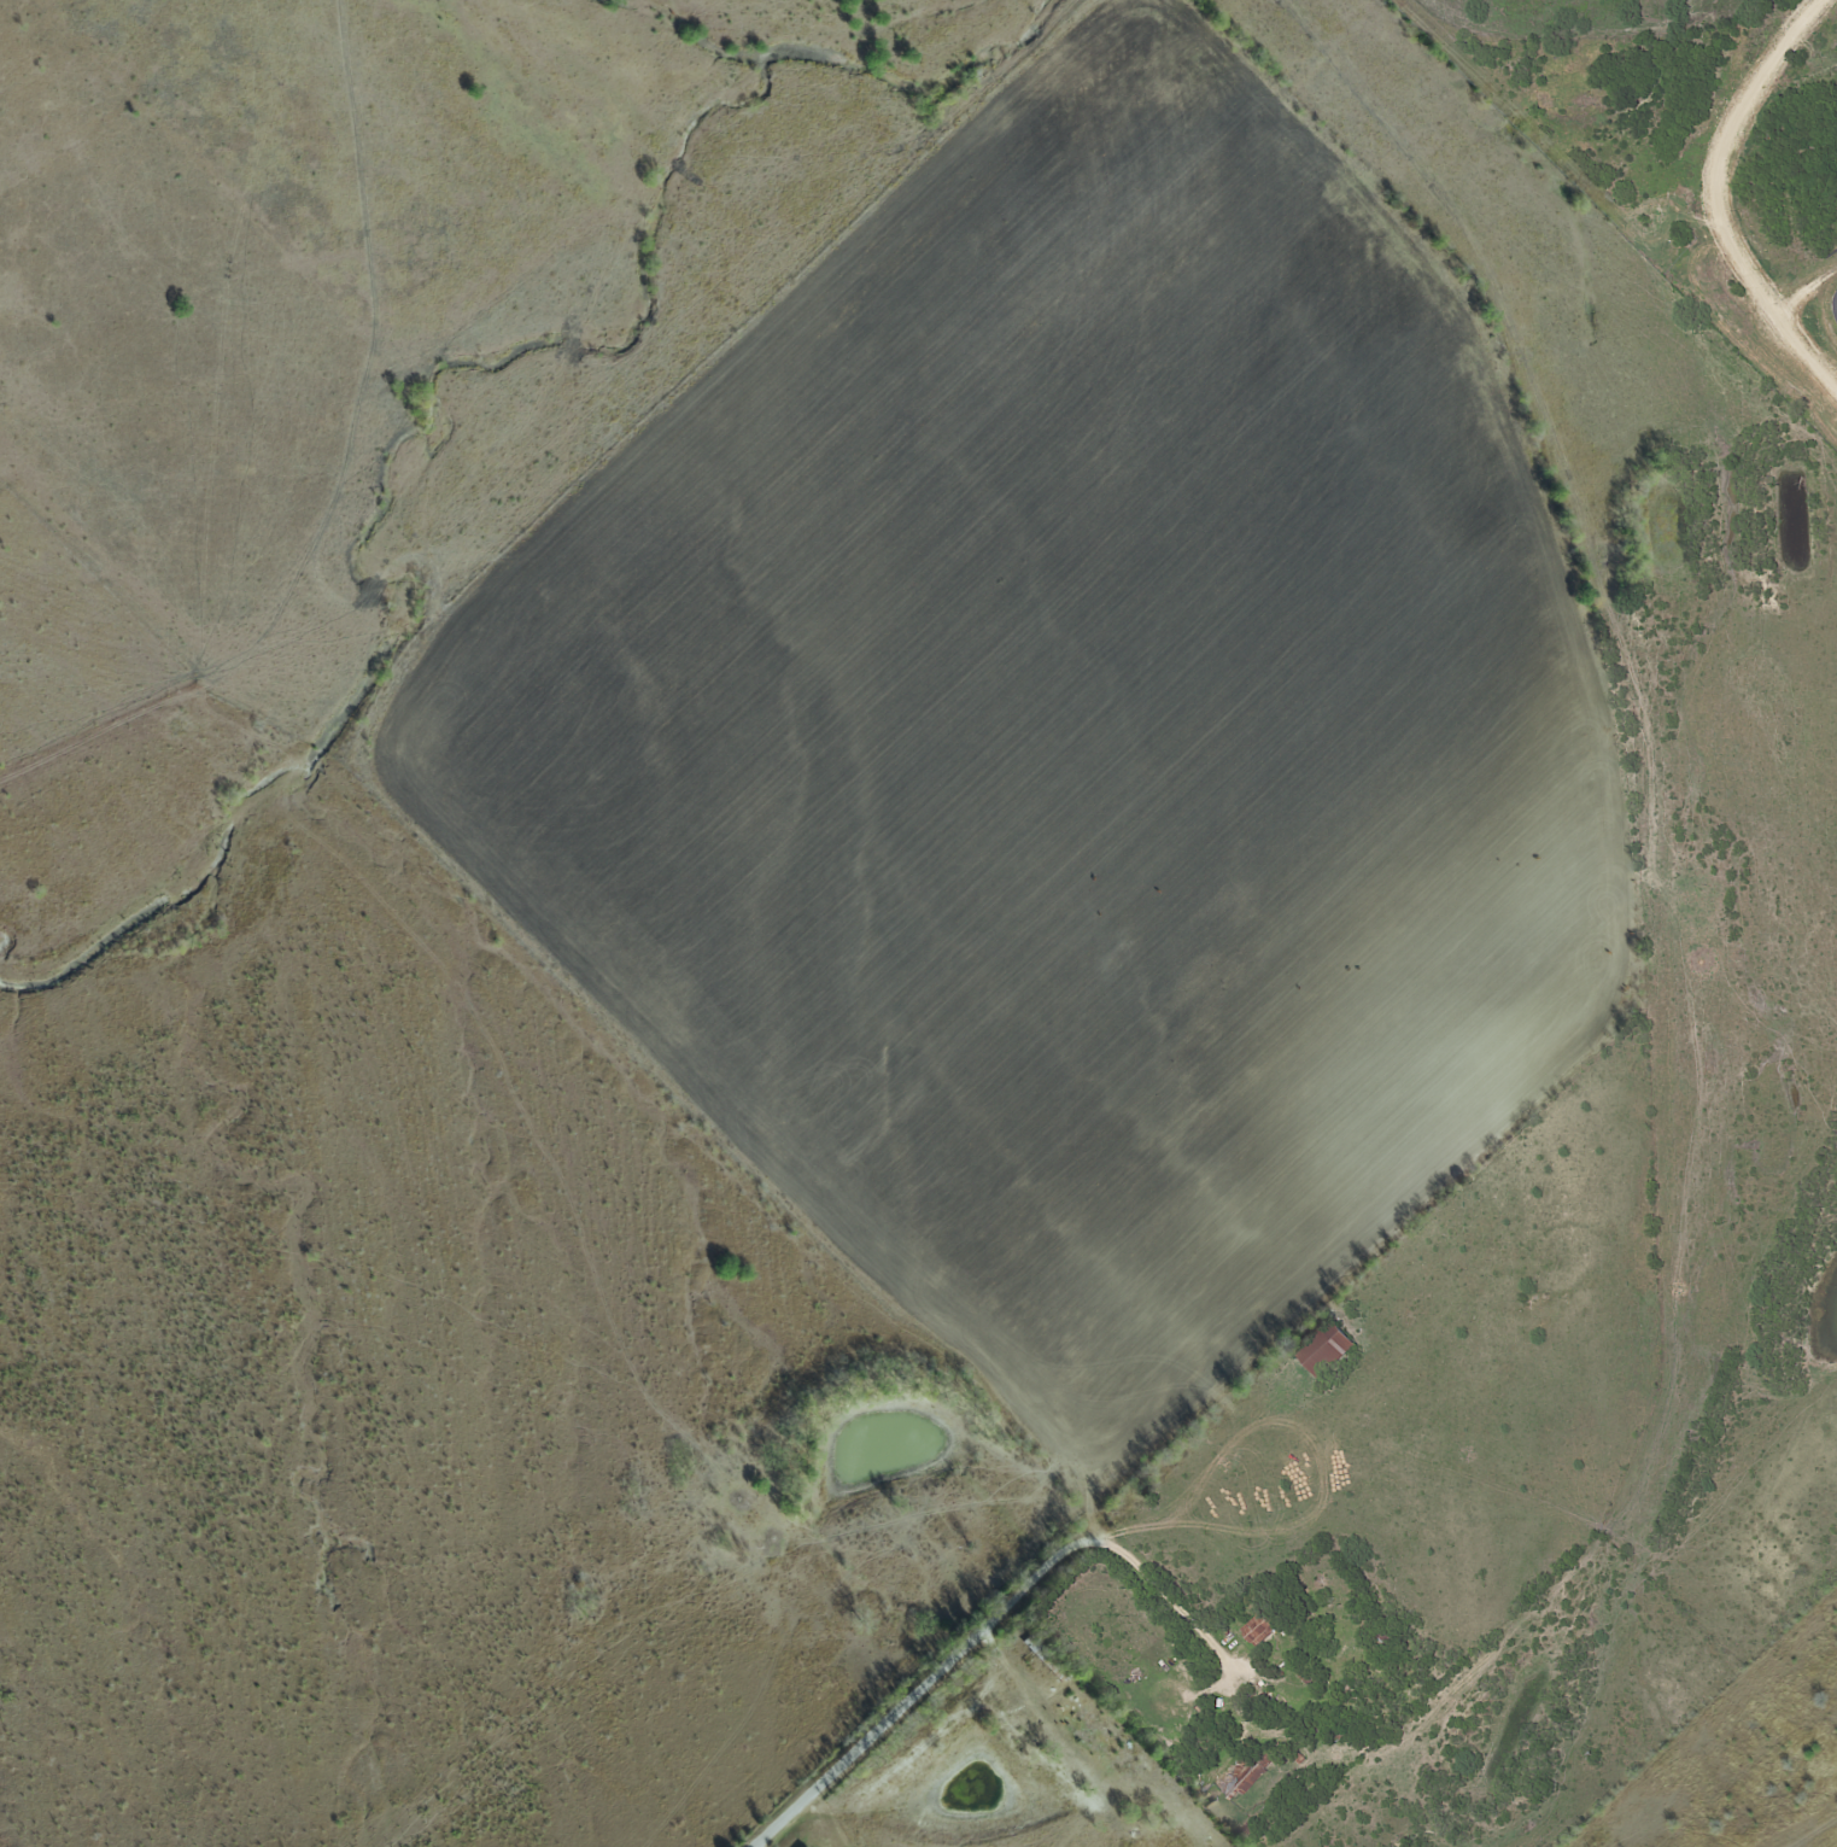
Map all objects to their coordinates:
landfill: (1669, 173)
building: (1322, 1350)
road: (1207, 1479)
road: (1157, 1588)
building: (1259, 1632)
road: (911, 1696)
building: (1242, 1778)

